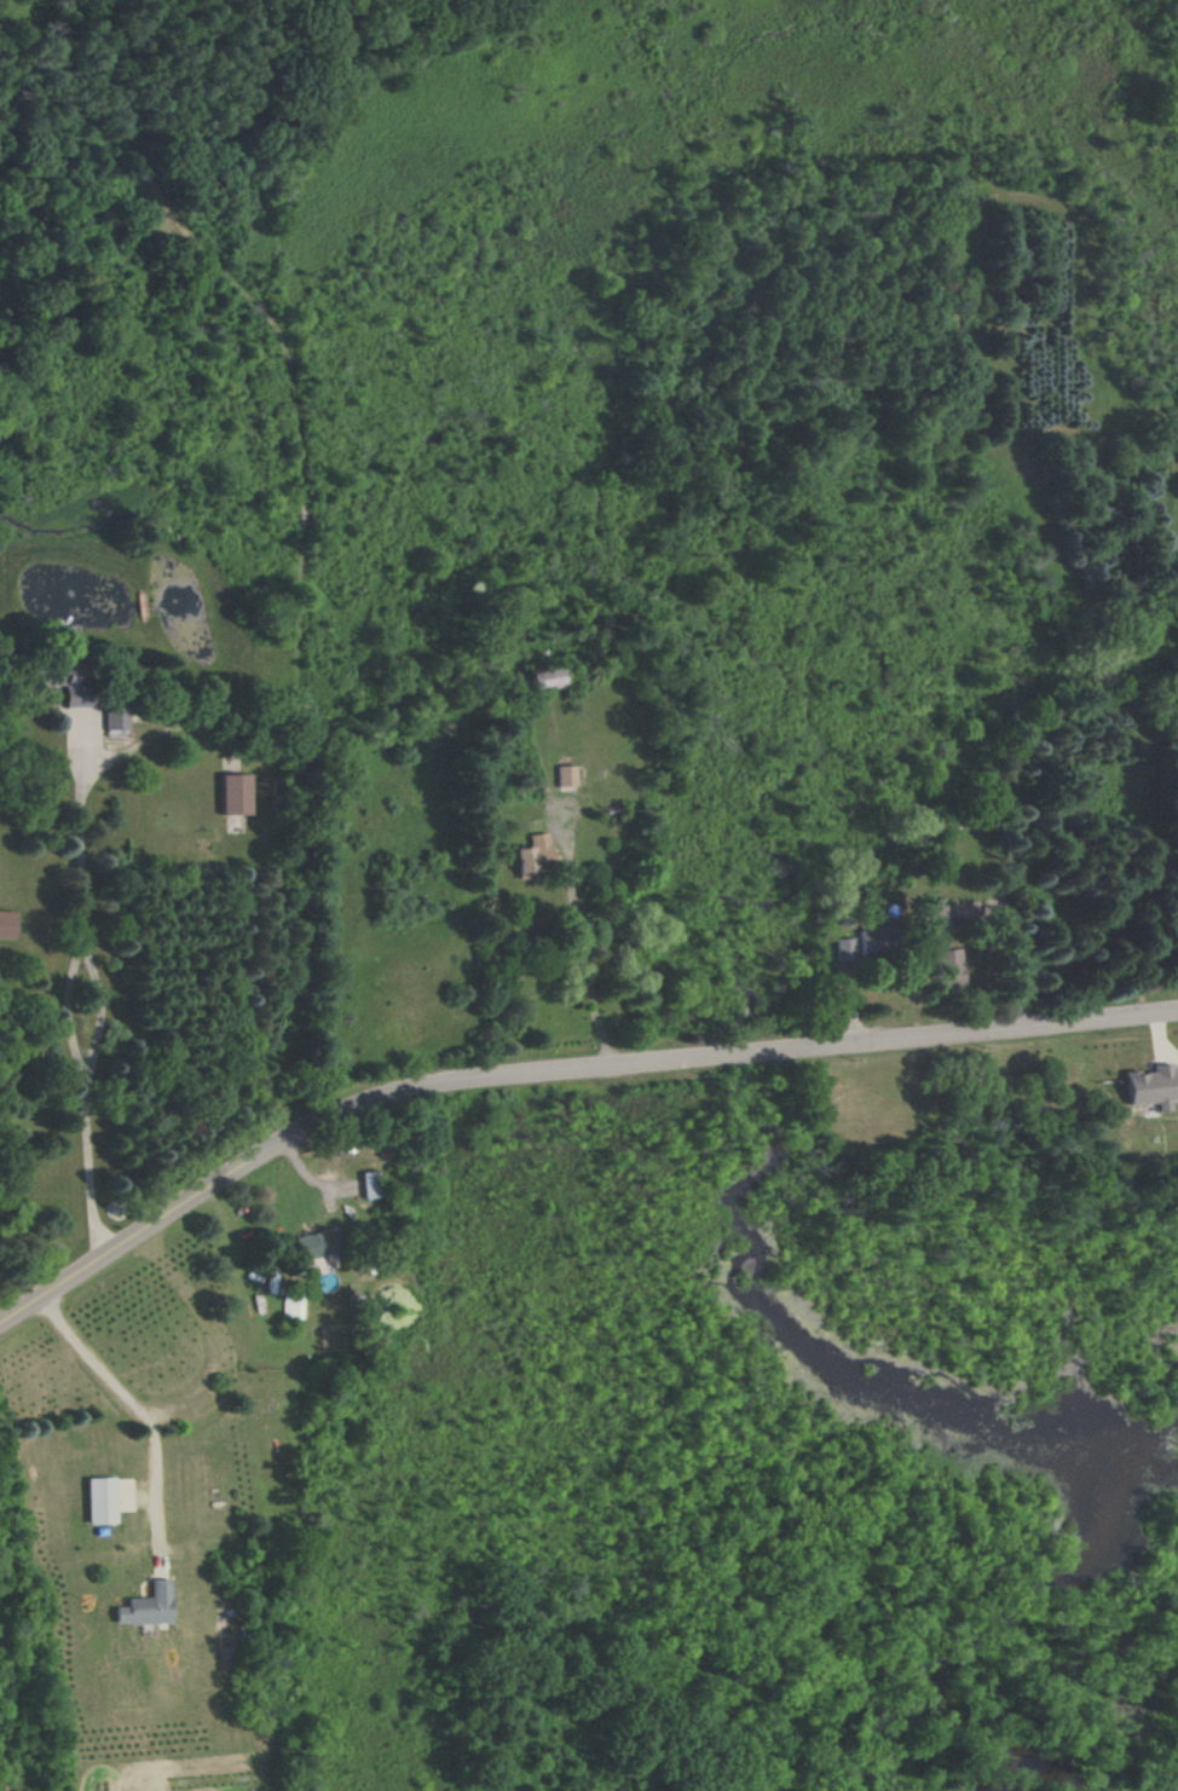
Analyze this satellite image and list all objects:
building: (544, 676)
building: (115, 717)
building: (565, 775)
building: (235, 793)
building: (531, 855)
building: (6, 924)
building: (876, 941)
building: (844, 948)
building: (941, 952)
road: (582, 974)
road: (65, 1009)
road: (728, 1055)
building: (1150, 1086)
building: (370, 1184)
road: (144, 1232)
building: (317, 1243)
building: (291, 1308)
road: (140, 1411)
building: (100, 1500)
building: (145, 1606)

